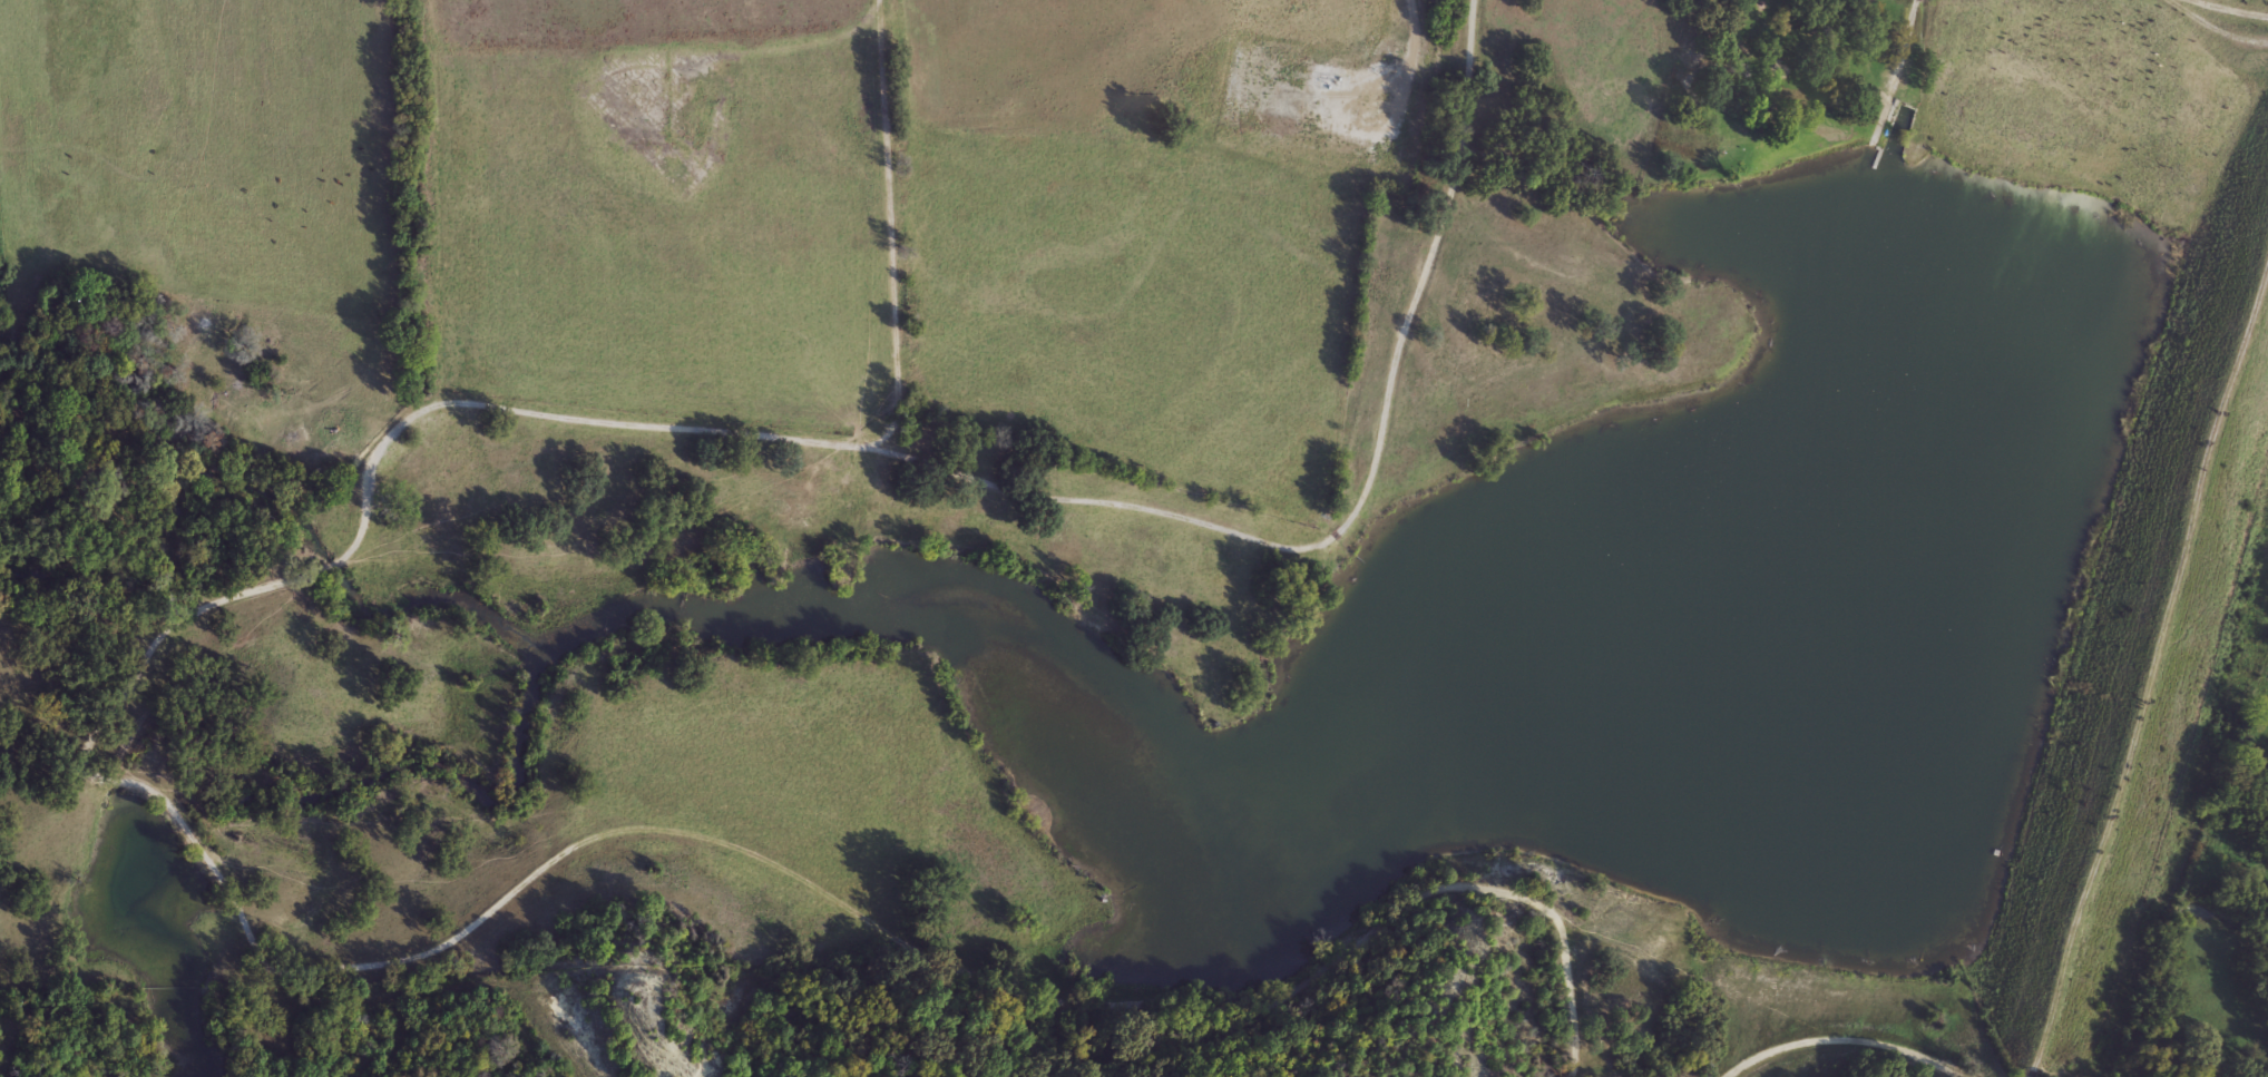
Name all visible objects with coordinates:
road: (2228, 9)
road: (1694, 25)
road: (2215, 31)
road: (1905, 40)
building: (1903, 116)
road: (1144, 508)
road: (2147, 652)
road: (426, 951)
road: (1841, 1039)
road: (2262, 1071)

